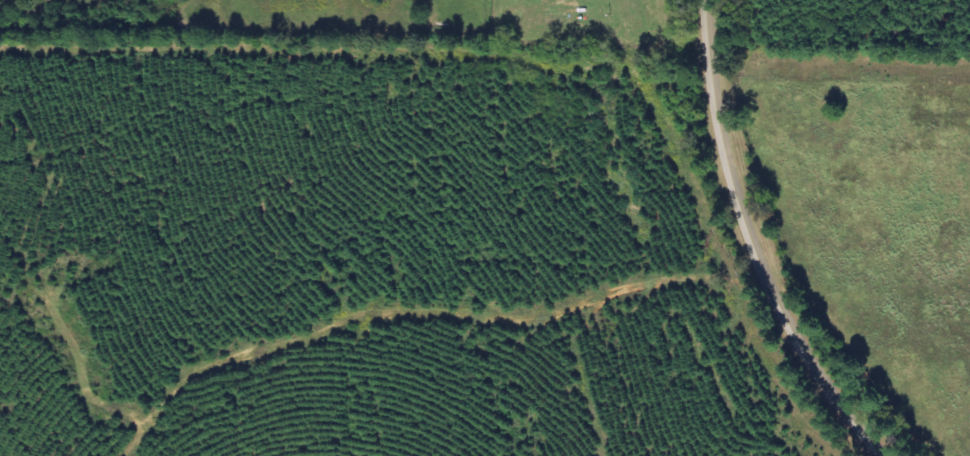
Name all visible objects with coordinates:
road: (752, 244)

